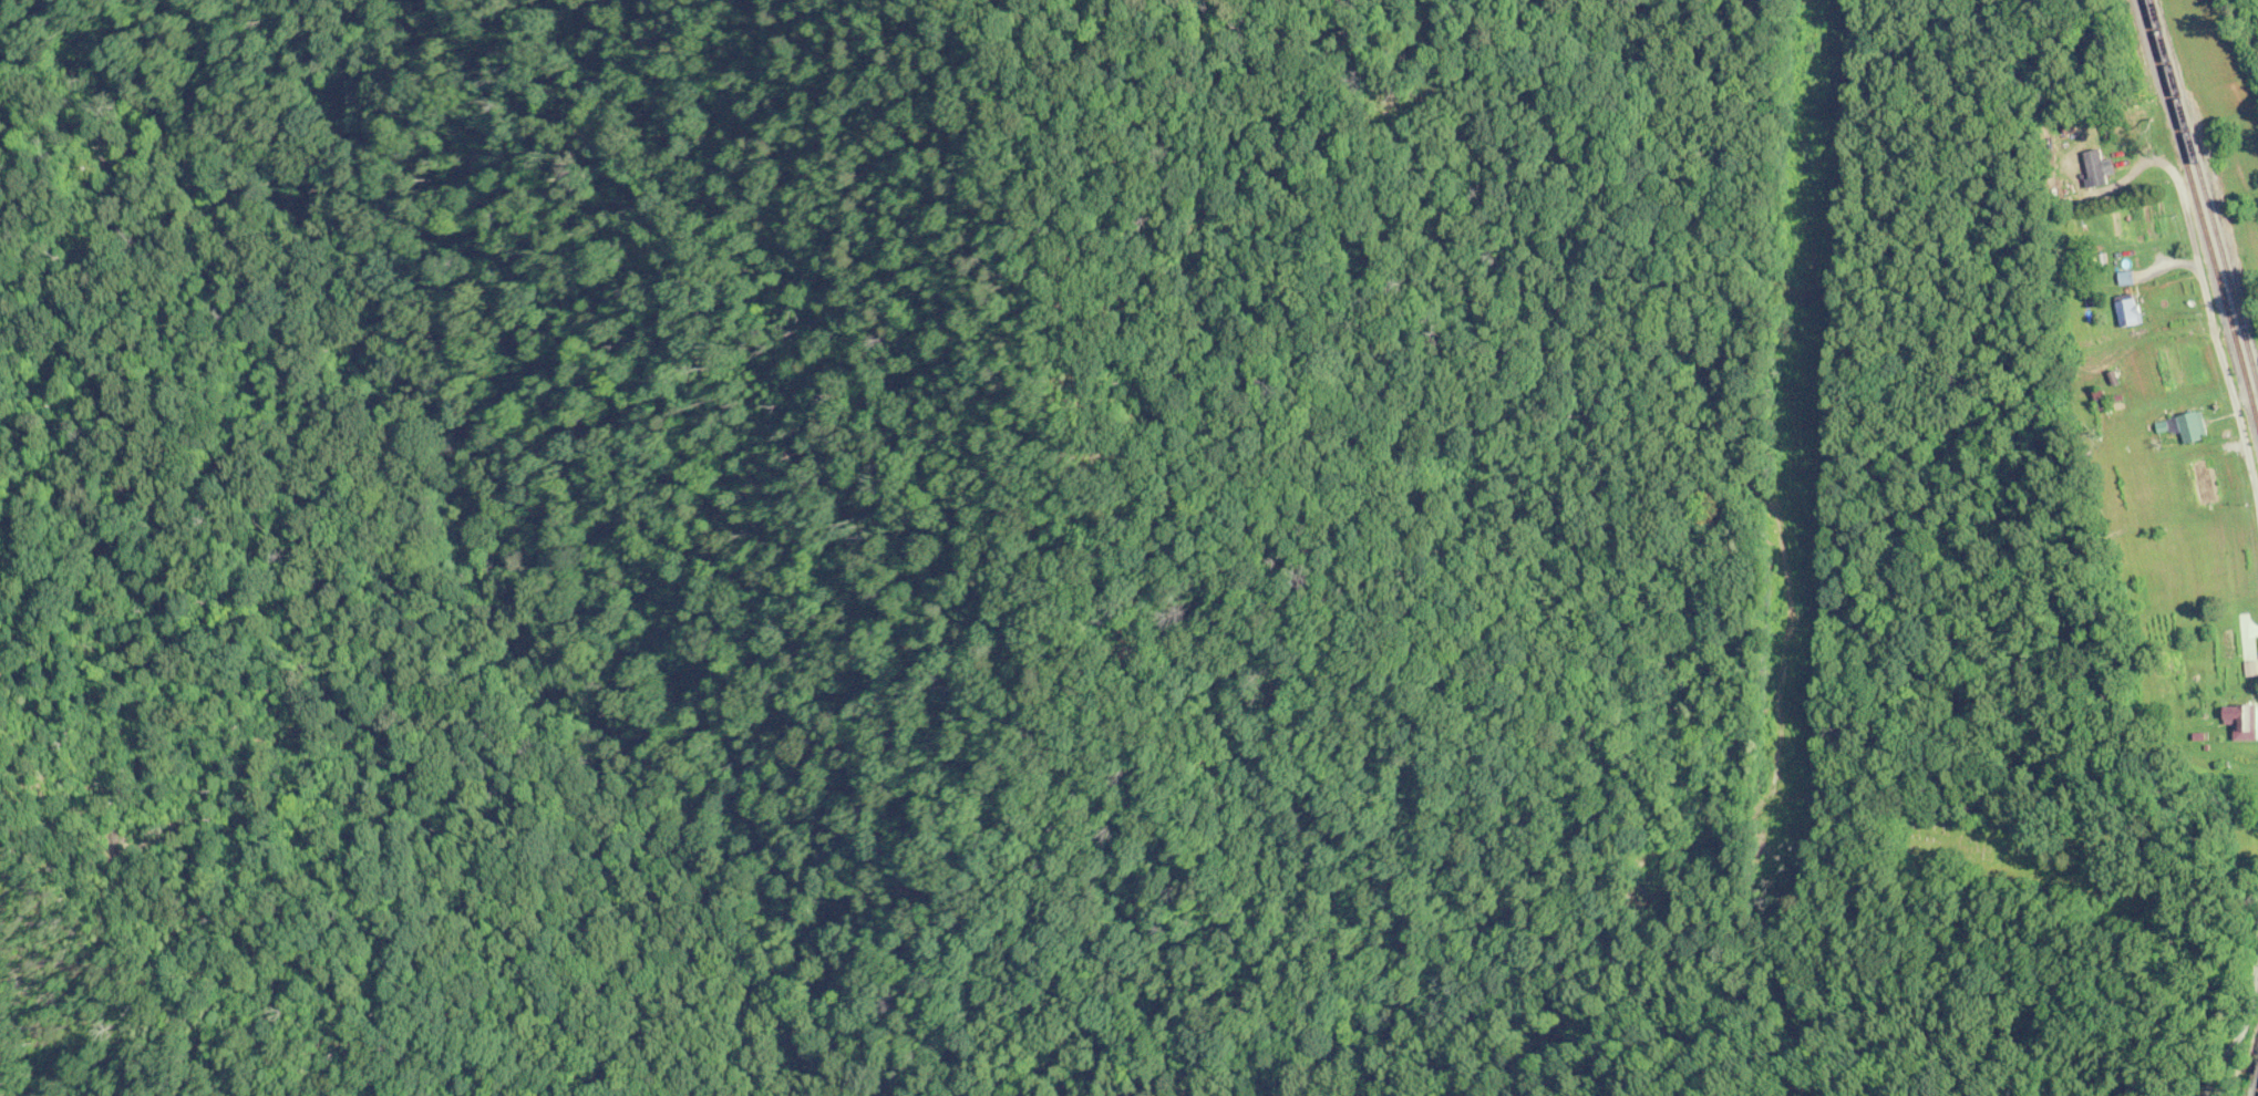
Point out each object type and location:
building: (2094, 168)
railway: (2199, 196)
road: (2182, 197)
building: (2130, 313)
road: (2228, 385)
building: (2227, 645)
building: (2244, 722)
road: (2239, 1033)
railway: (2257, 1095)

